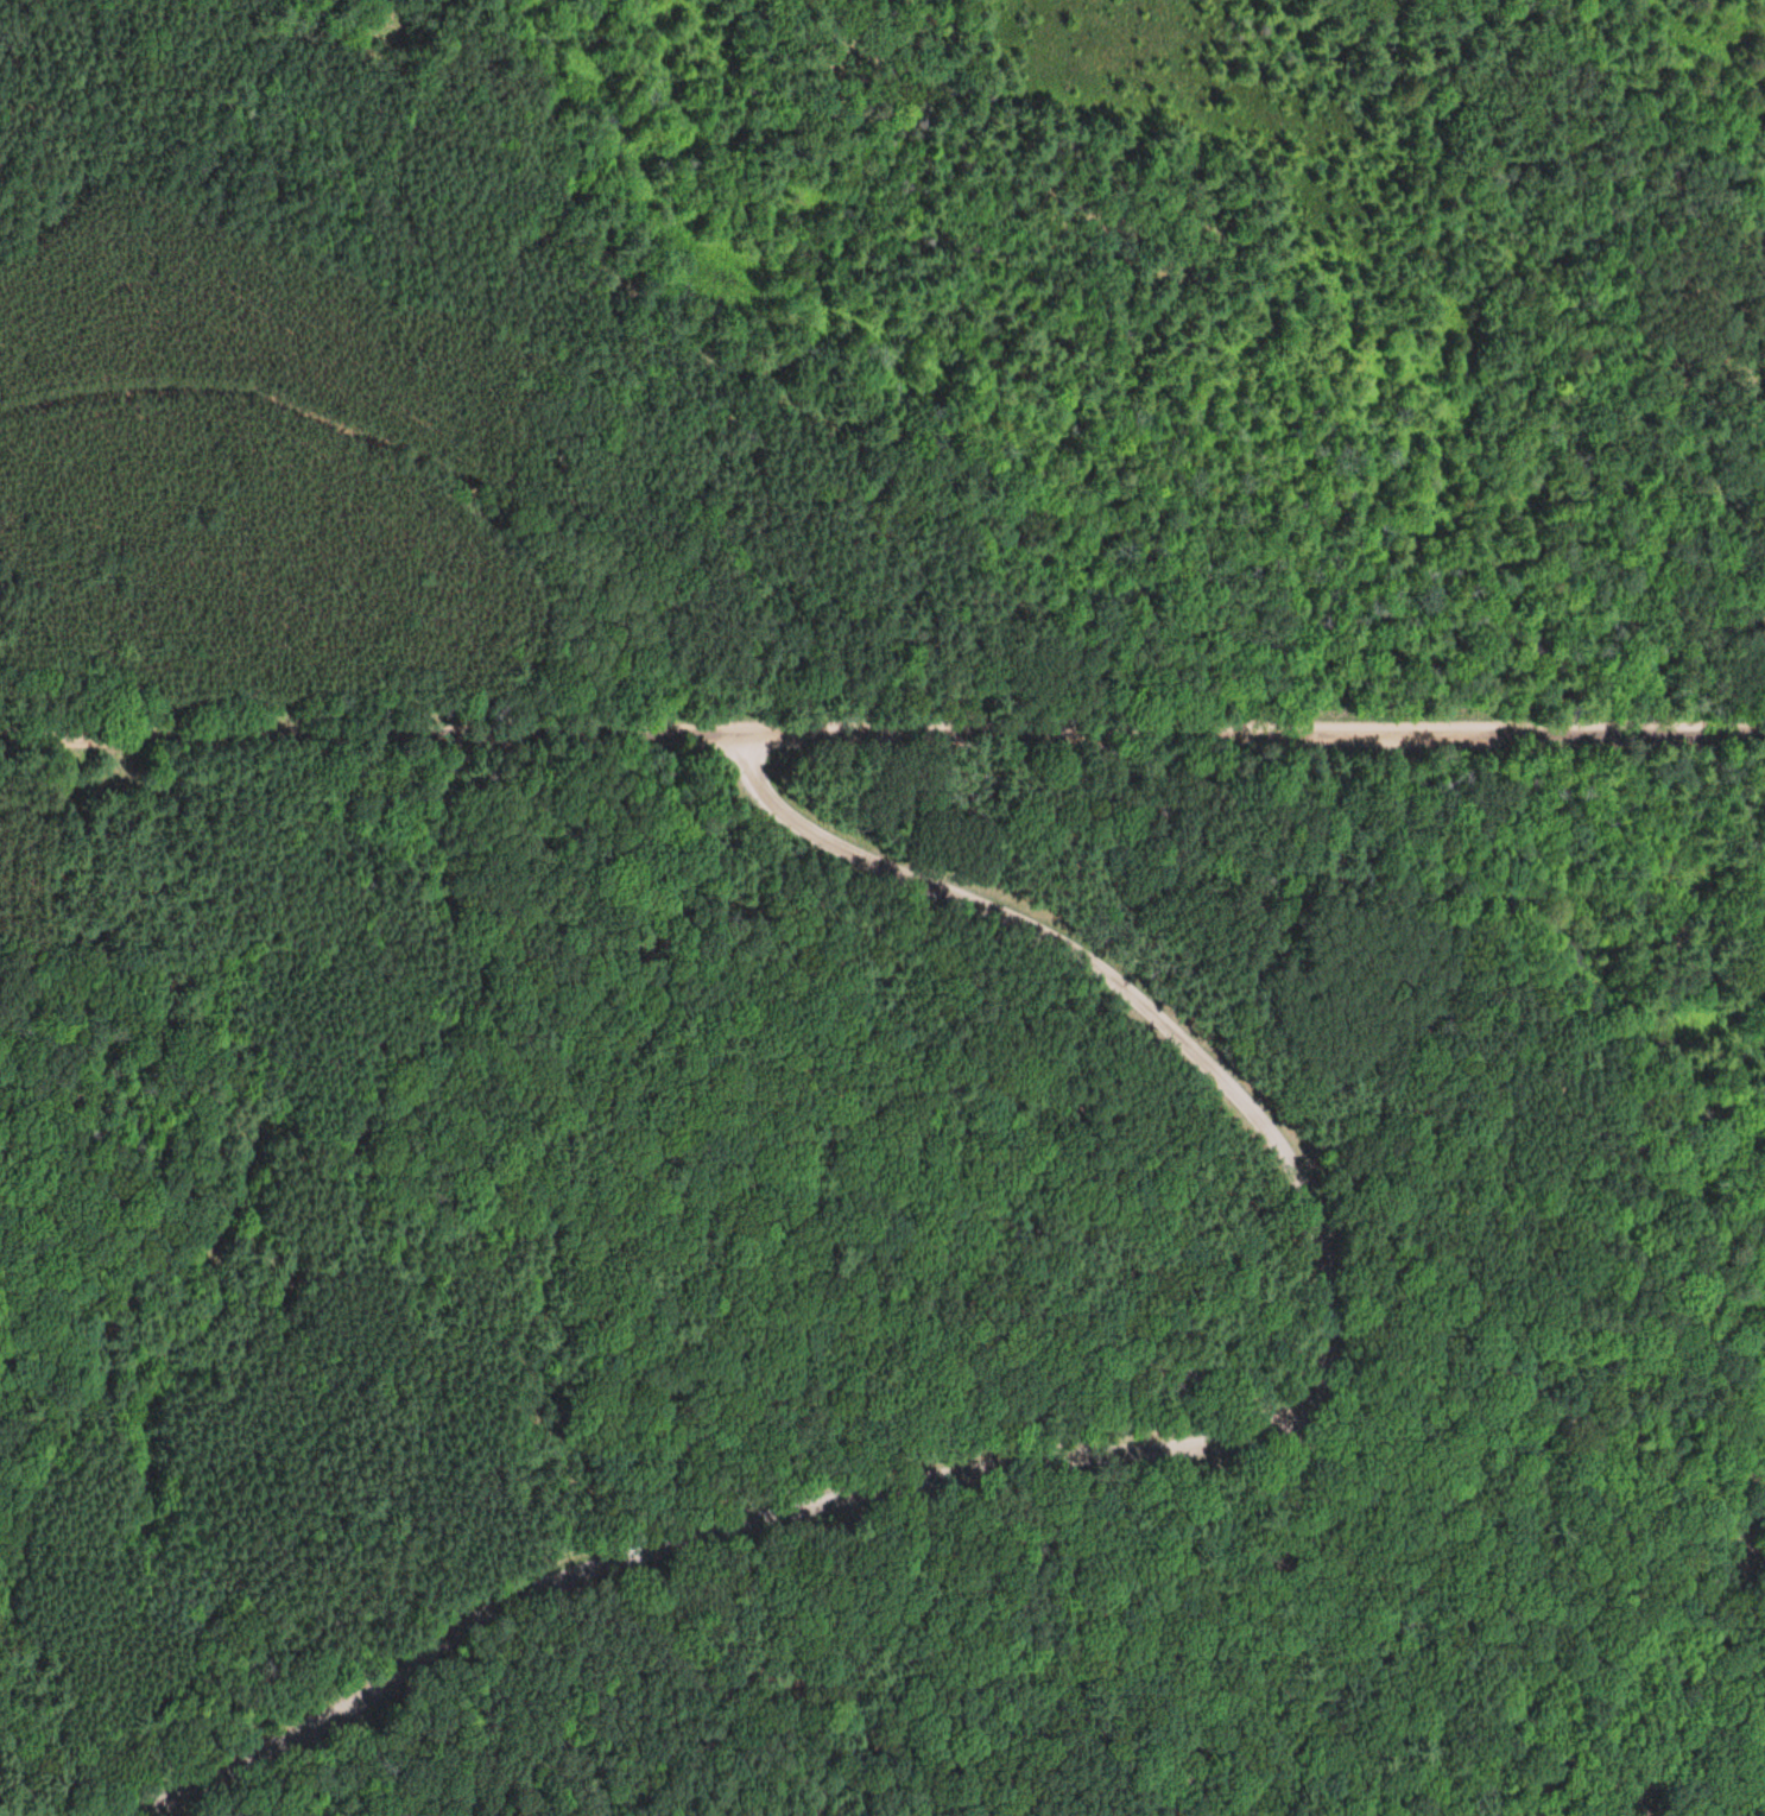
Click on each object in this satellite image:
road: (883, 745)
road: (1150, 1000)
road: (707, 1535)
road: (1247, 1620)
road: (147, 1812)
road: (223, 1812)
road: (214, 1814)

